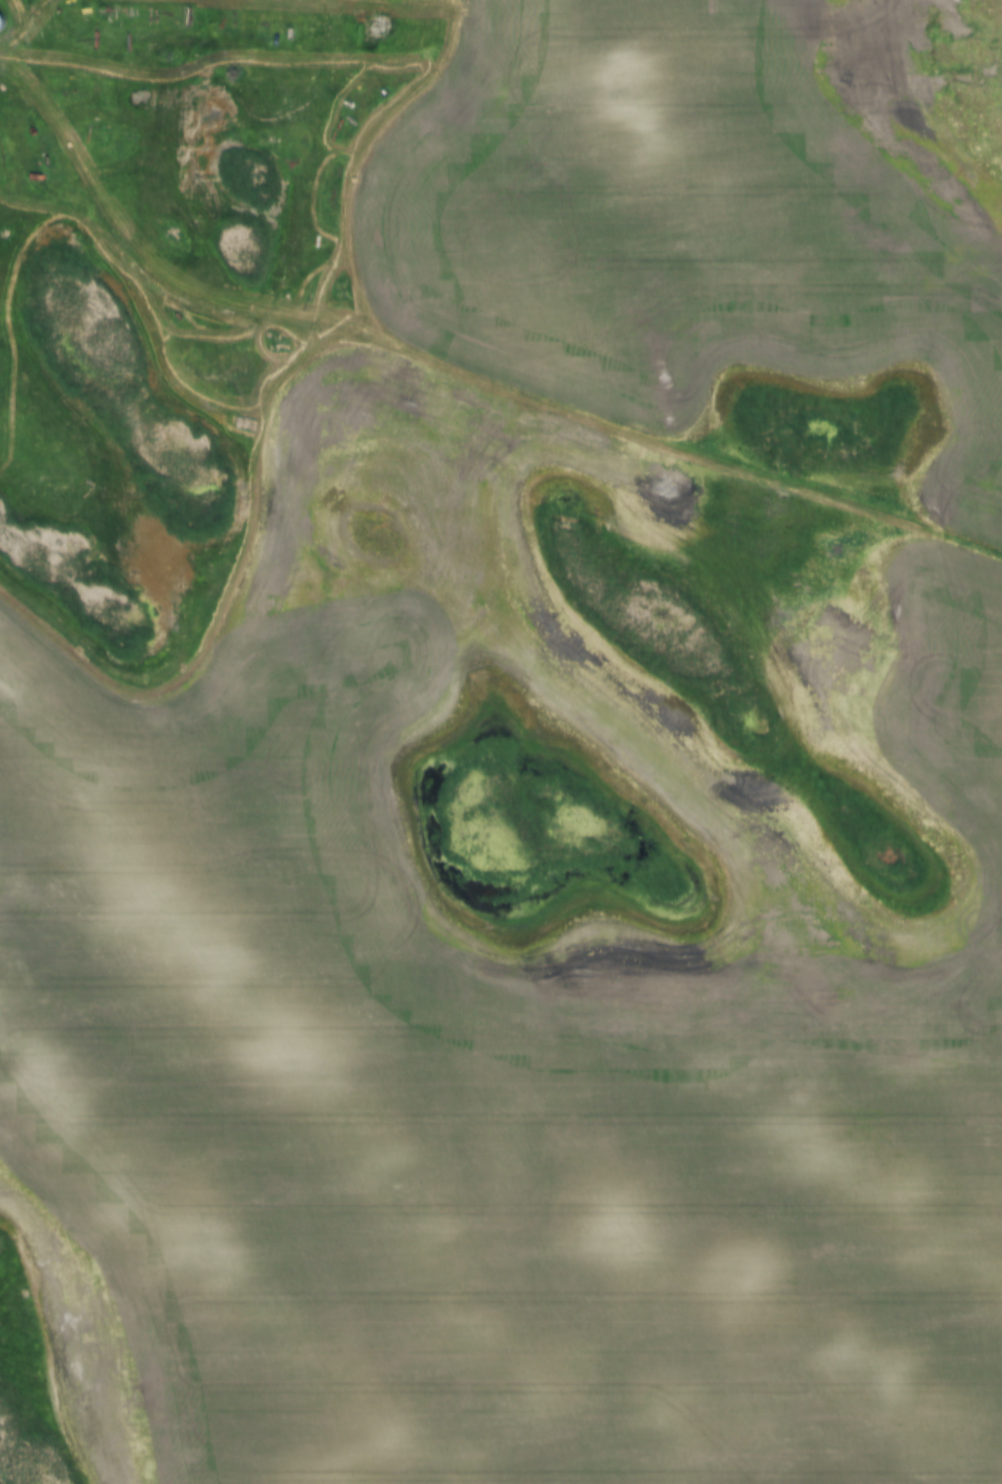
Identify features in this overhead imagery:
road: (450, 367)

